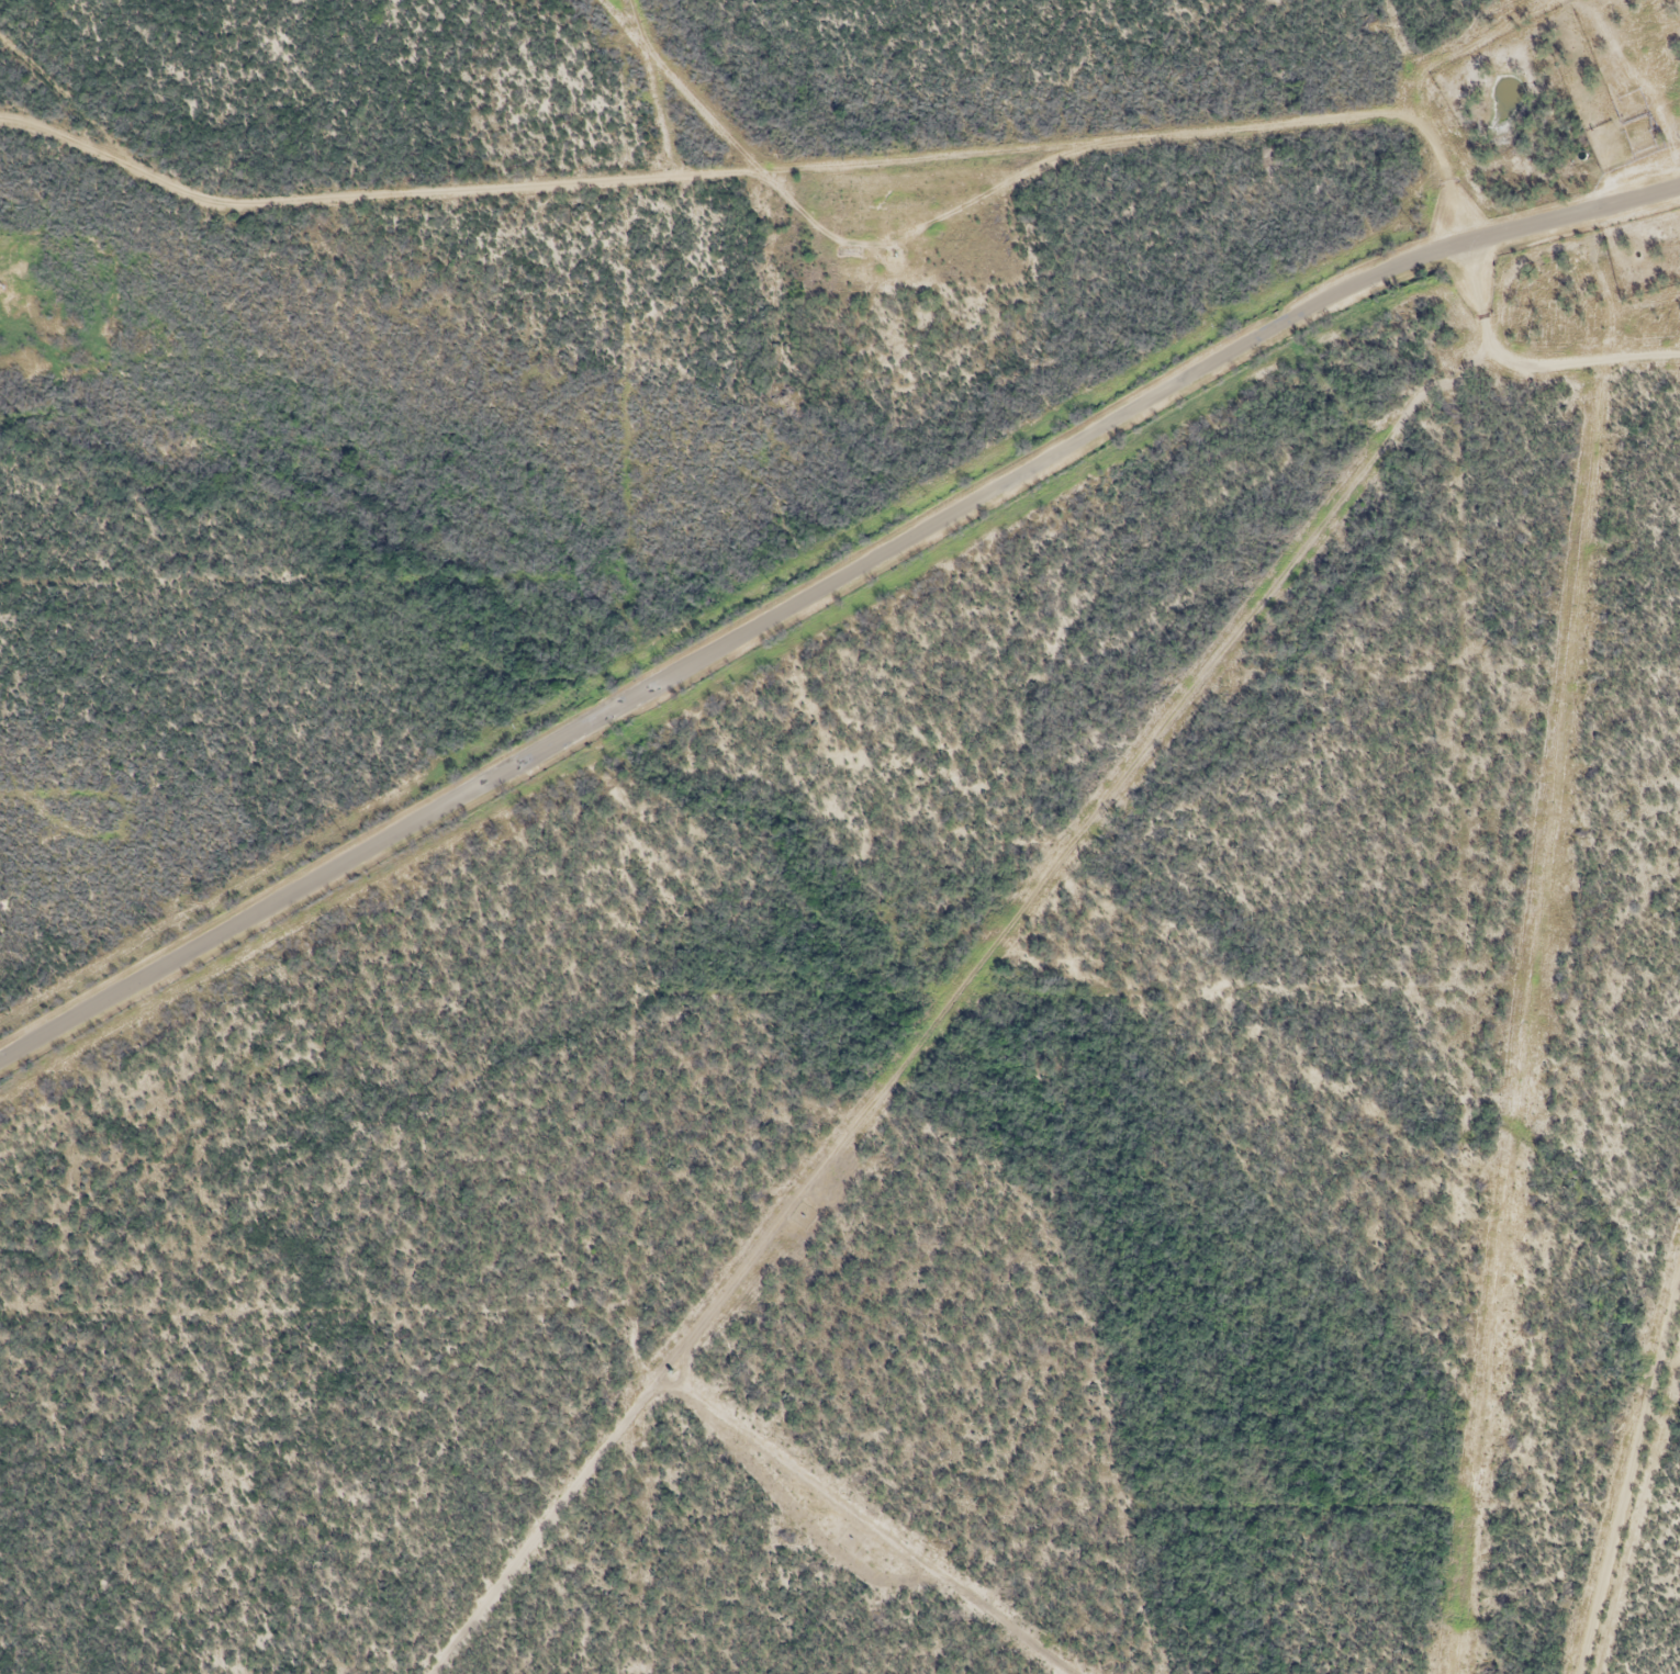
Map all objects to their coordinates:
road: (825, 595)

